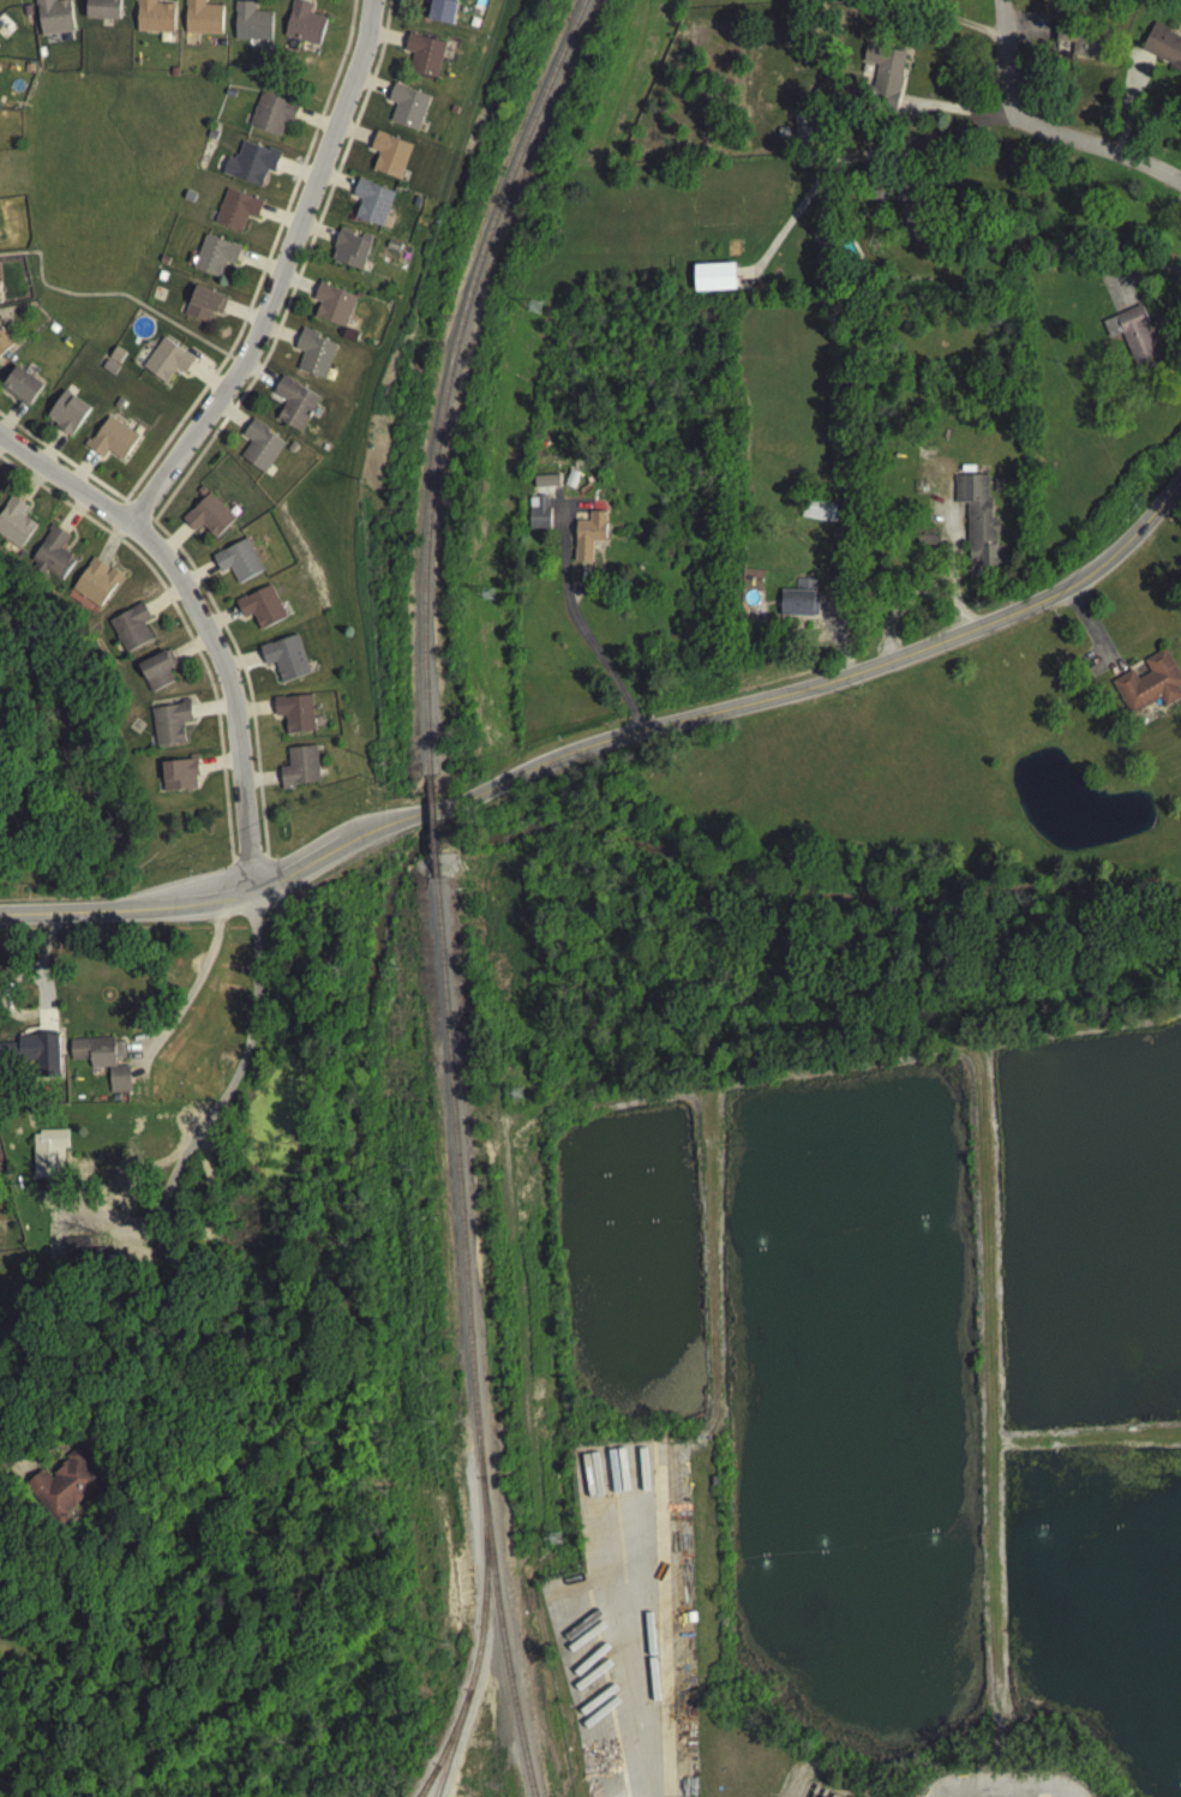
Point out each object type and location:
building: (102, 12)
building: (442, 13)
building: (54, 20)
building: (152, 20)
building: (200, 22)
building: (251, 28)
building: (302, 28)
building: (0, 29)
building: (1075, 44)
building: (1163, 50)
building: (424, 59)
building: (883, 76)
building: (407, 110)
road: (961, 112)
building: (270, 119)
building: (804, 130)
road: (1045, 130)
road: (849, 156)
road: (342, 157)
building: (389, 160)
building: (250, 168)
building: (371, 206)
building: (235, 214)
building: (350, 253)
building: (214, 259)
road: (264, 265)
road: (278, 274)
building: (713, 281)
road: (107, 299)
power tower: (534, 304)
building: (204, 309)
building: (332, 310)
building: (1133, 341)
building: (4, 346)
building: (313, 358)
road: (228, 361)
building: (166, 365)
road: (235, 365)
road: (257, 378)
railway: (446, 378)
building: (20, 390)
building: (293, 408)
building: (66, 417)
building: (110, 444)
building: (259, 450)
road: (62, 463)
building: (539, 510)
road: (138, 516)
building: (208, 521)
building: (978, 526)
building: (16, 527)
building: (588, 540)
building: (53, 558)
building: (236, 565)
road: (187, 568)
road: (940, 575)
power tower: (488, 589)
road: (959, 603)
building: (796, 607)
building: (259, 611)
road: (203, 618)
road: (179, 625)
building: (131, 633)
road: (578, 633)
building: (283, 663)
building: (157, 675)
building: (1149, 688)
road: (811, 691)
building: (293, 717)
building: (169, 727)
building: (299, 771)
building: (179, 780)
building: (1180, 819)
road: (372, 828)
railway: (431, 831)
road: (311, 859)
road: (248, 862)
road: (254, 889)
road: (193, 906)
road: (77, 918)
road: (41, 976)
road: (193, 987)
road: (8, 999)
road: (245, 1050)
building: (102, 1052)
building: (28, 1054)
road: (839, 1064)
power tower: (517, 1091)
building: (49, 1149)
road: (985, 1253)
road: (712, 1277)
railway: (473, 1342)
road: (655, 1462)
road: (18, 1472)
building: (67, 1488)
road: (993, 1507)
power tower: (554, 1535)
road: (635, 1564)
road: (604, 1568)
railway: (475, 1647)
road: (640, 1731)
railway: (439, 1759)
railway: (426, 1781)
building: (816, 1792)
road: (1020, 1795)

